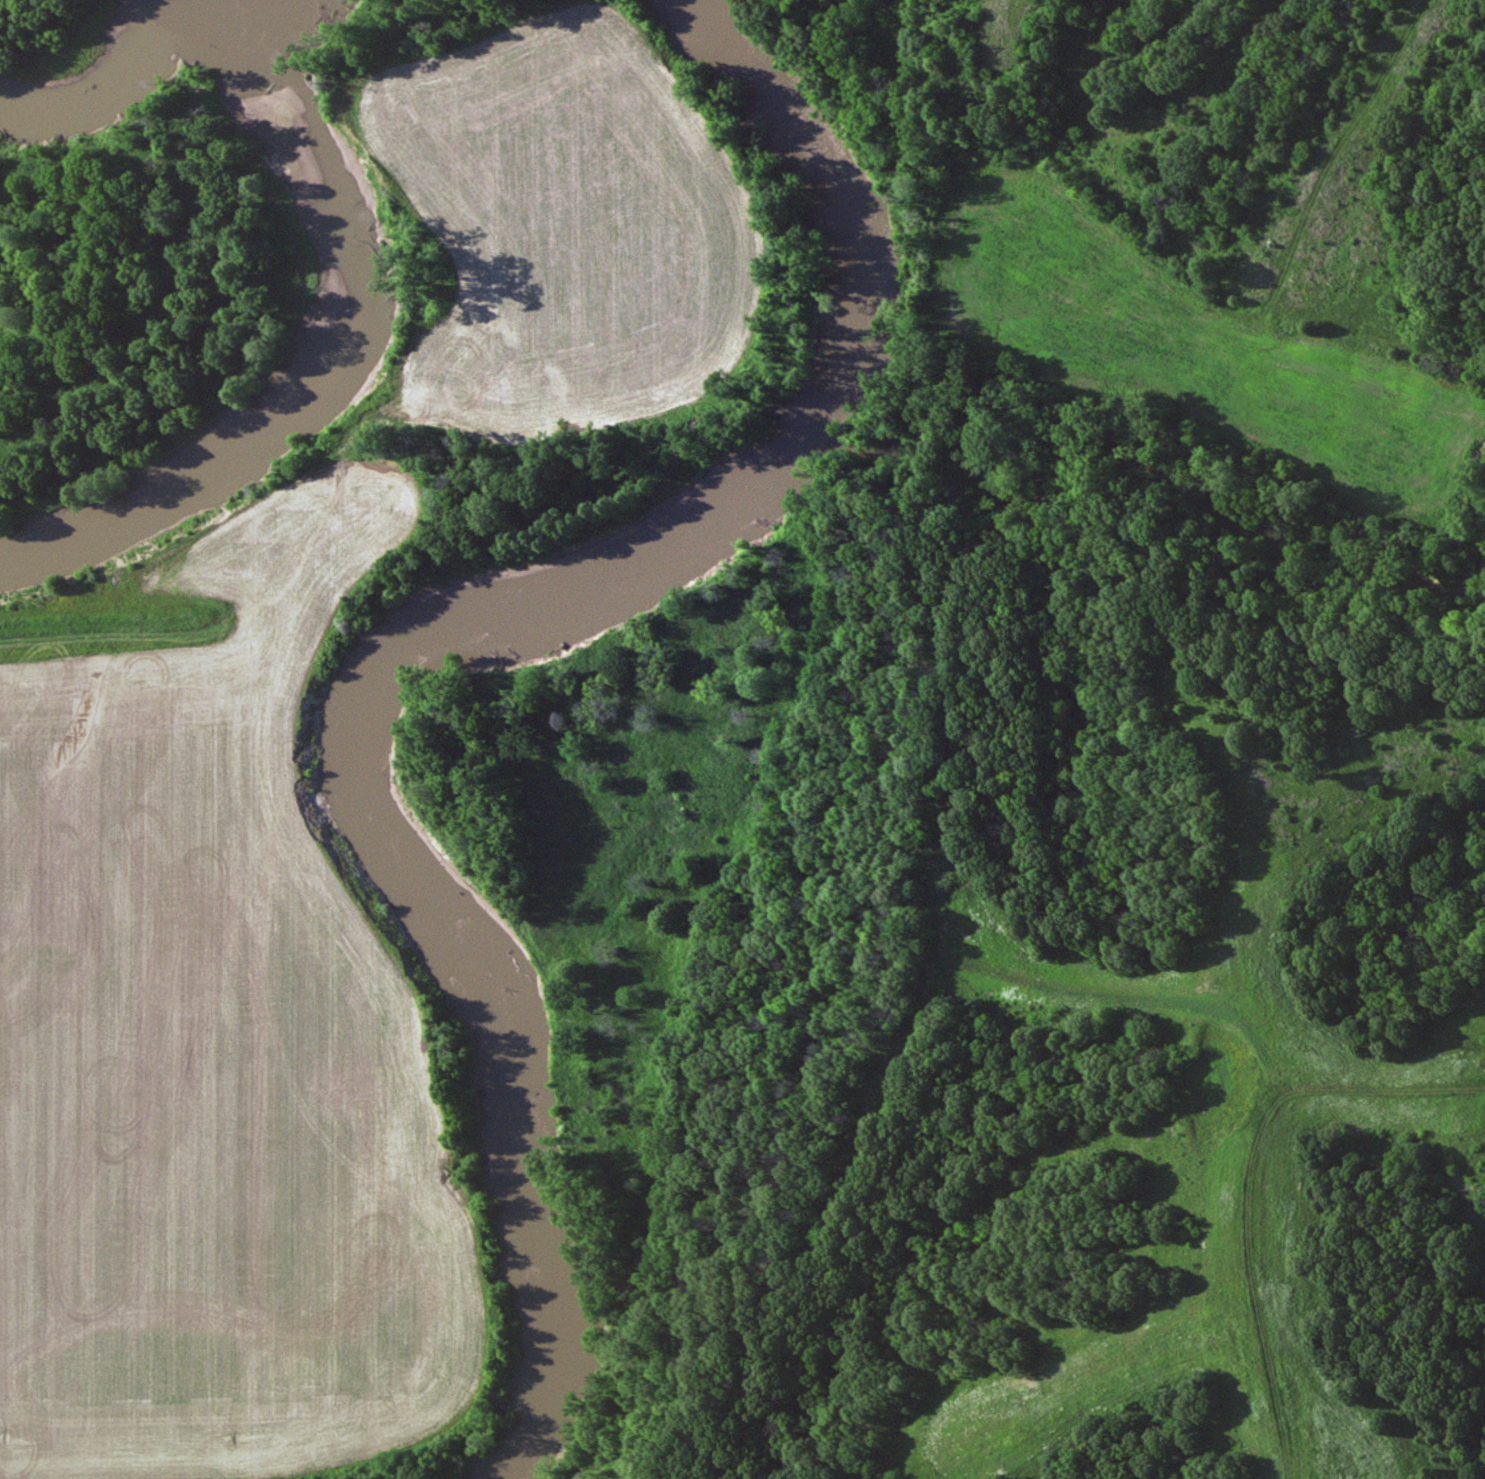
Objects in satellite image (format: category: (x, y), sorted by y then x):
river: (103, 76)
river: (324, 369)
river: (425, 623)

